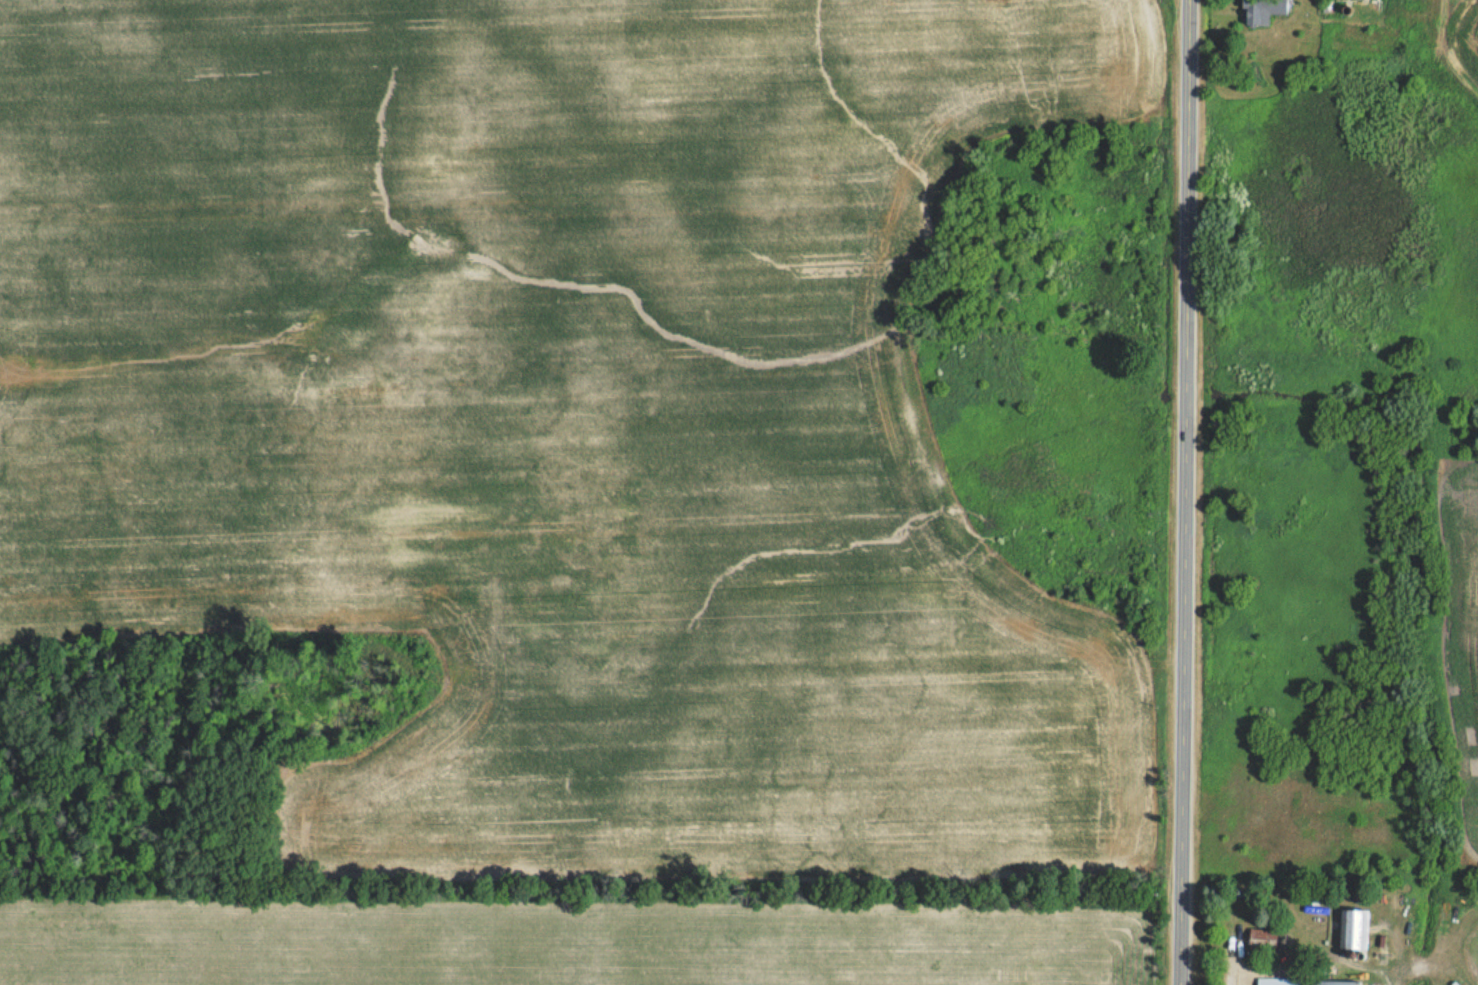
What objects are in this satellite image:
building: (1262, 11)
road: (1183, 492)
building: (1353, 927)
building: (1265, 938)
road: (1238, 979)
building: (1286, 980)

